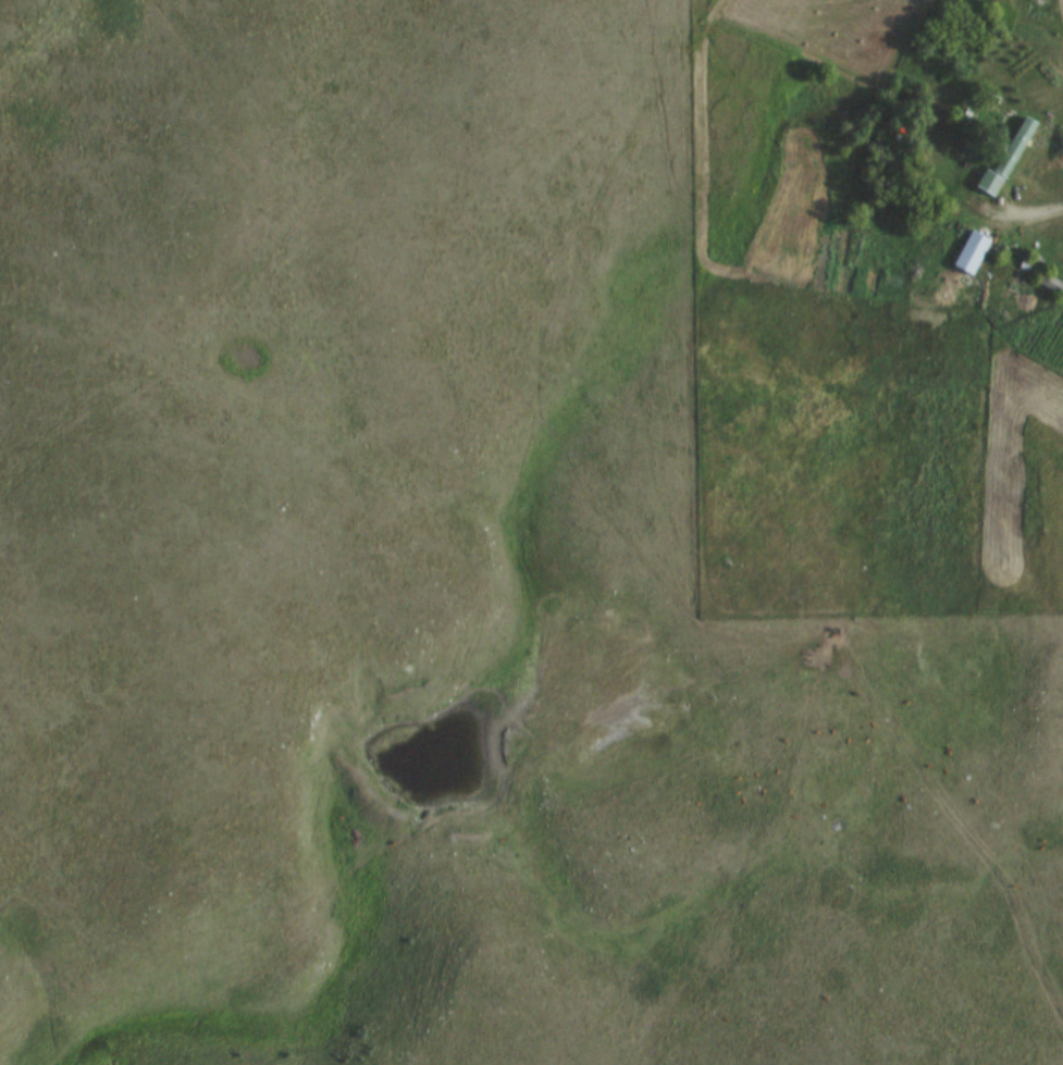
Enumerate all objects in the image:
building: (978, 137)
building: (1010, 160)
road: (1028, 213)
building: (974, 253)

